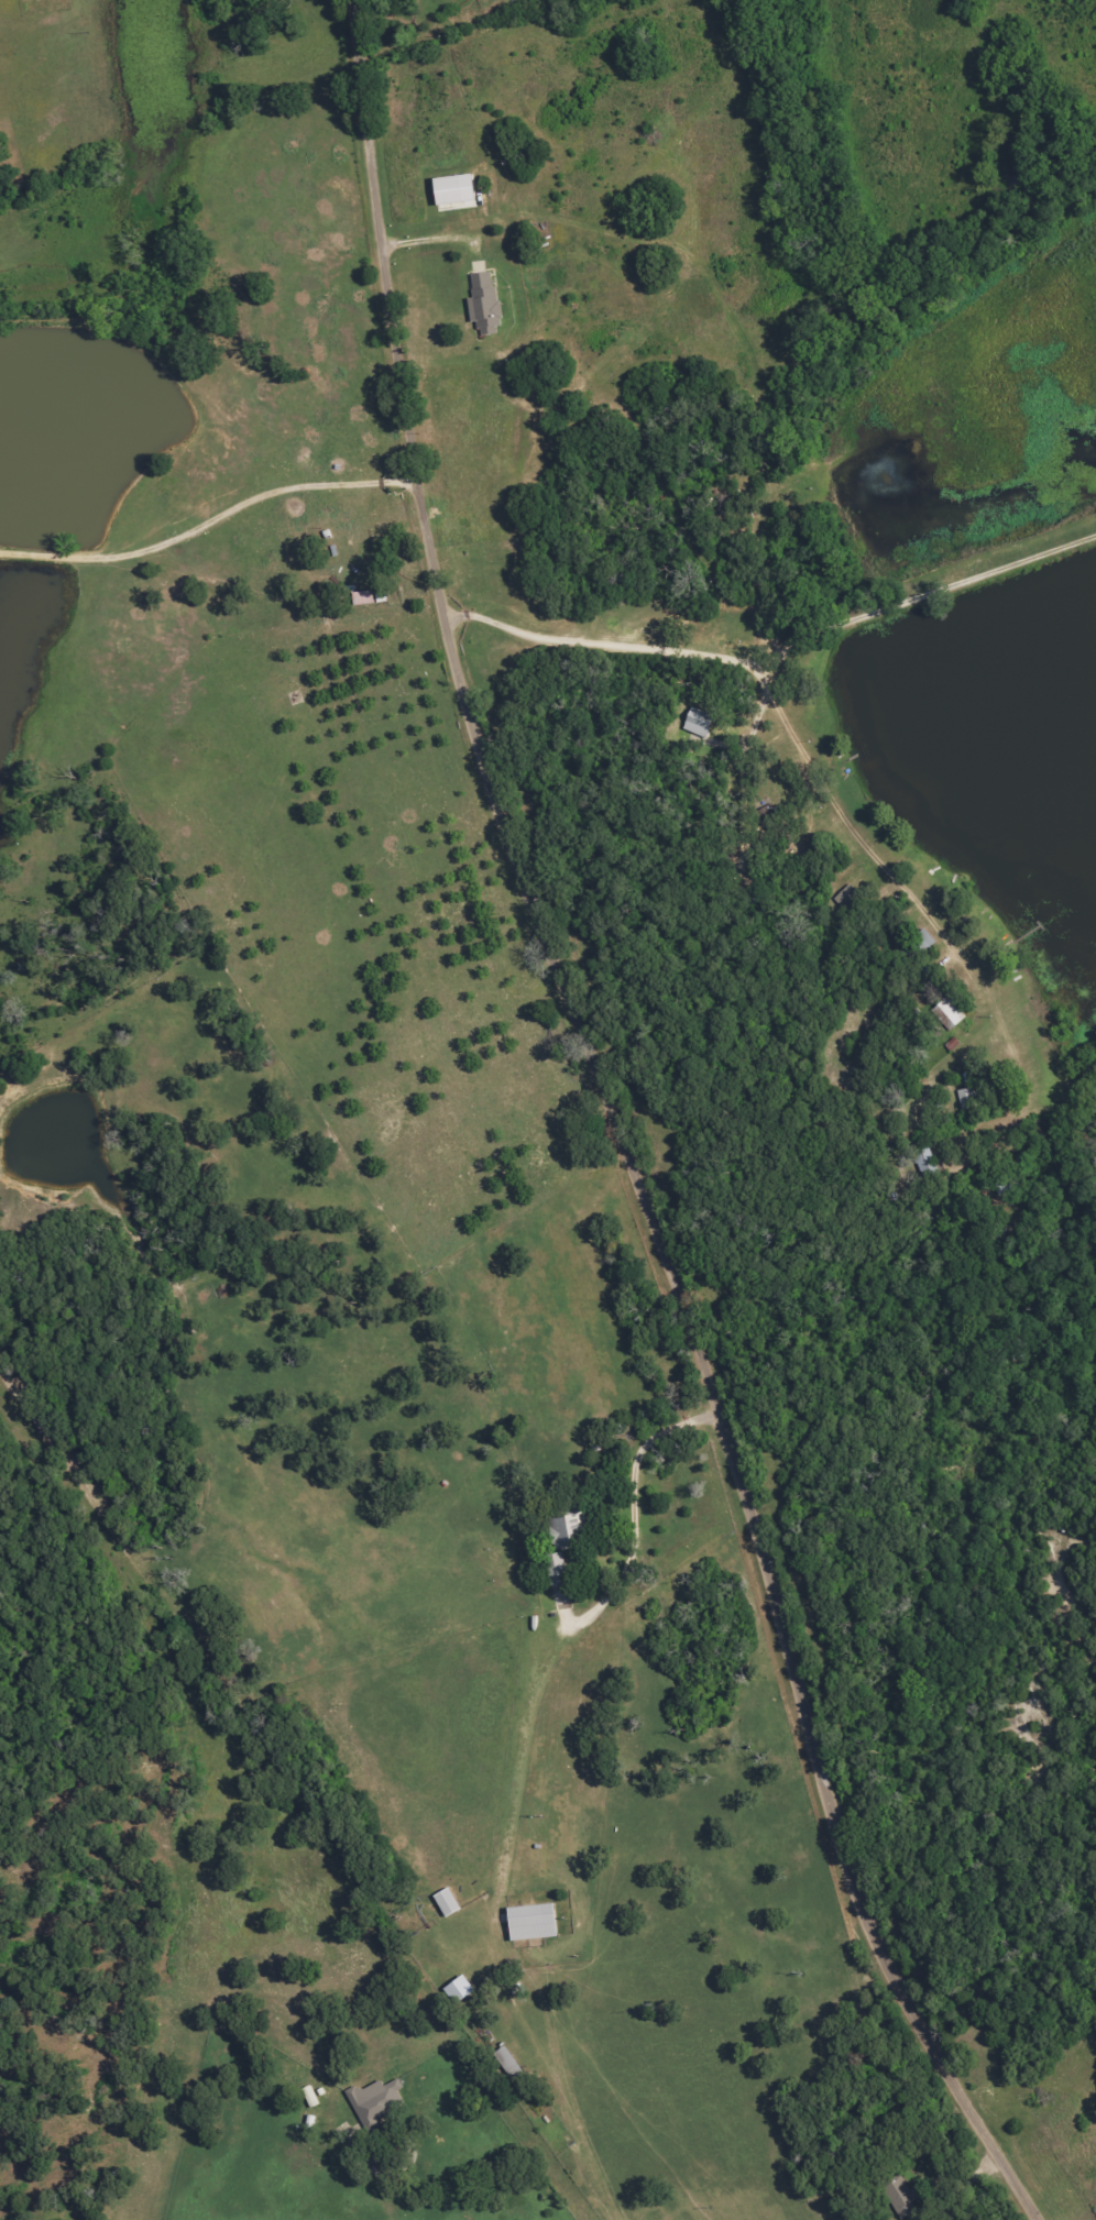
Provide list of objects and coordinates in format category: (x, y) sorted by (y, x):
building: (456, 193)
building: (485, 303)
building: (363, 596)
road: (909, 597)
road: (595, 692)
building: (698, 722)
building: (847, 899)
road: (861, 979)
building: (949, 1013)
building: (967, 1098)
road: (617, 1133)
building: (568, 1529)
building: (557, 1569)
building: (448, 1902)
building: (534, 1922)
building: (460, 1990)
building: (509, 2063)
building: (376, 2100)
building: (902, 2199)

